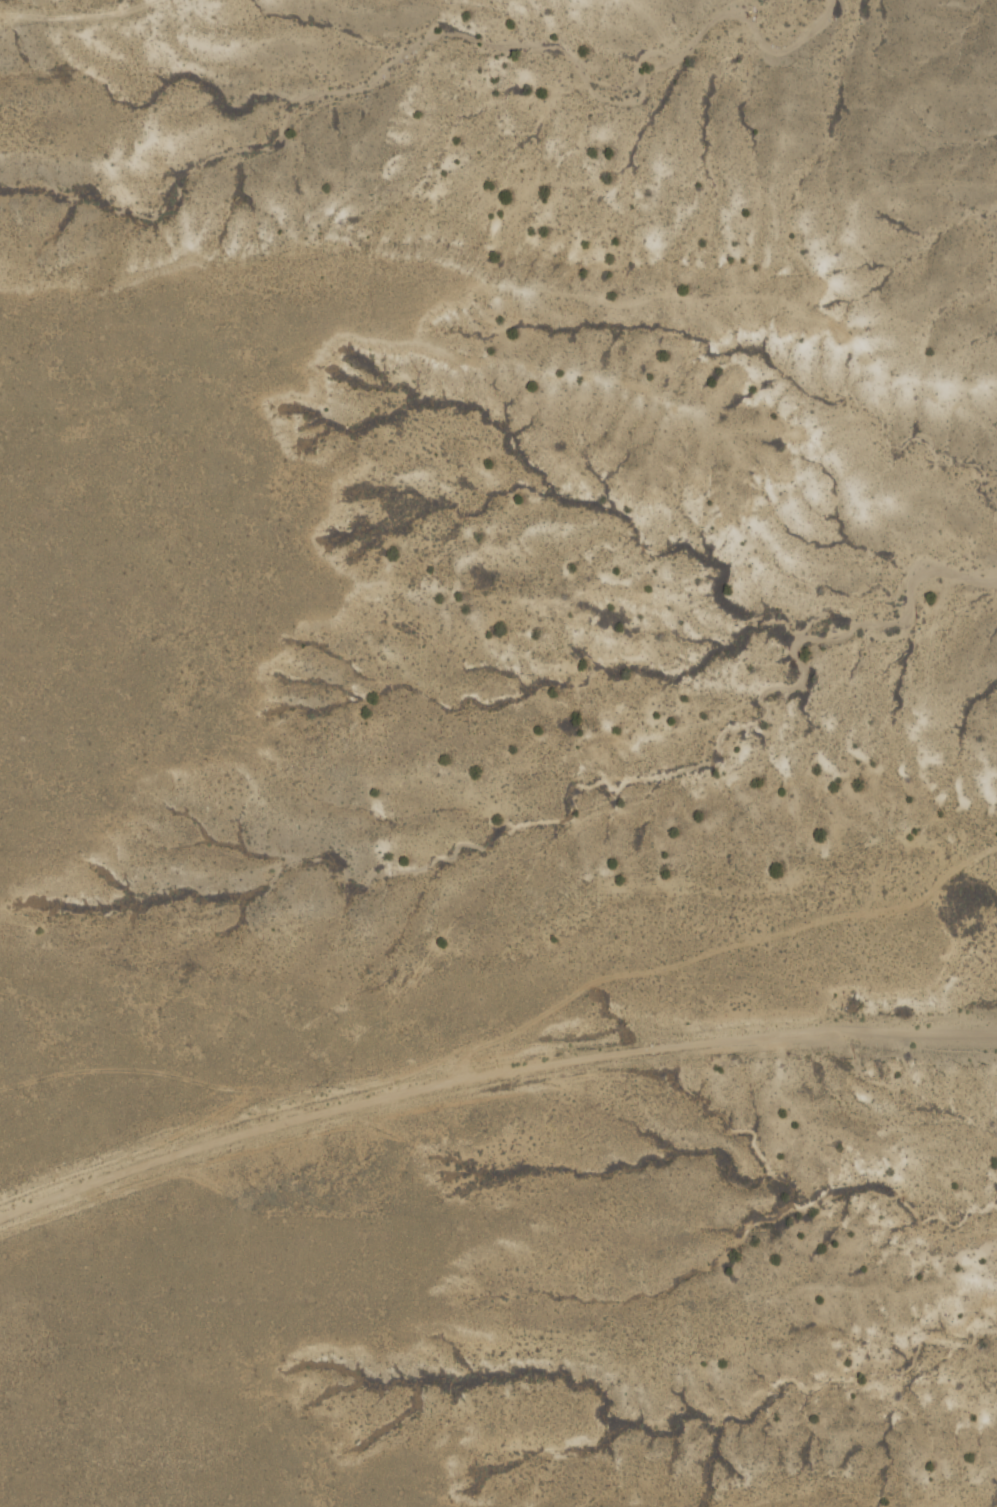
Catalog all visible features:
road: (490, 1073)

